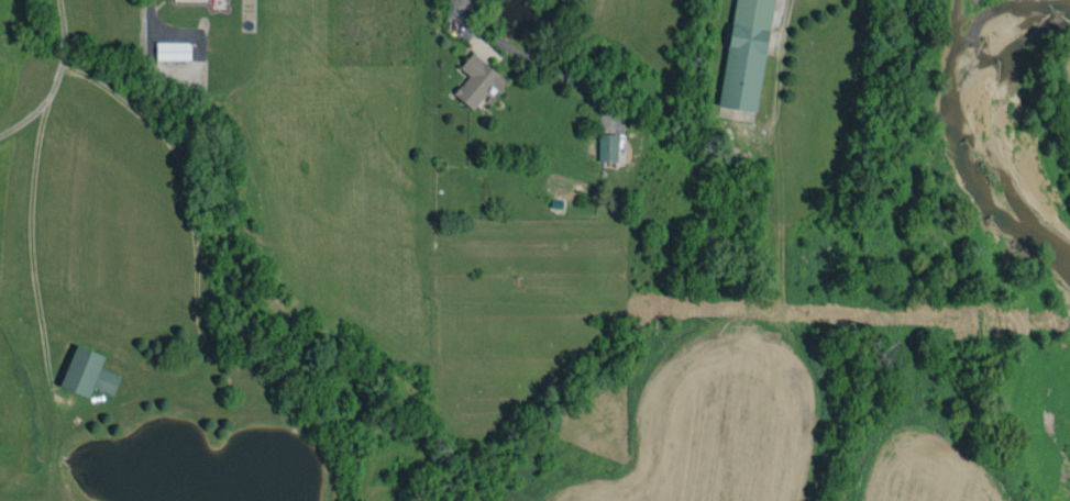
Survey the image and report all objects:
road: (148, 12)
road: (460, 12)
building: (746, 54)
road: (55, 79)
building: (477, 80)
river: (970, 89)
building: (607, 147)
building: (88, 372)

